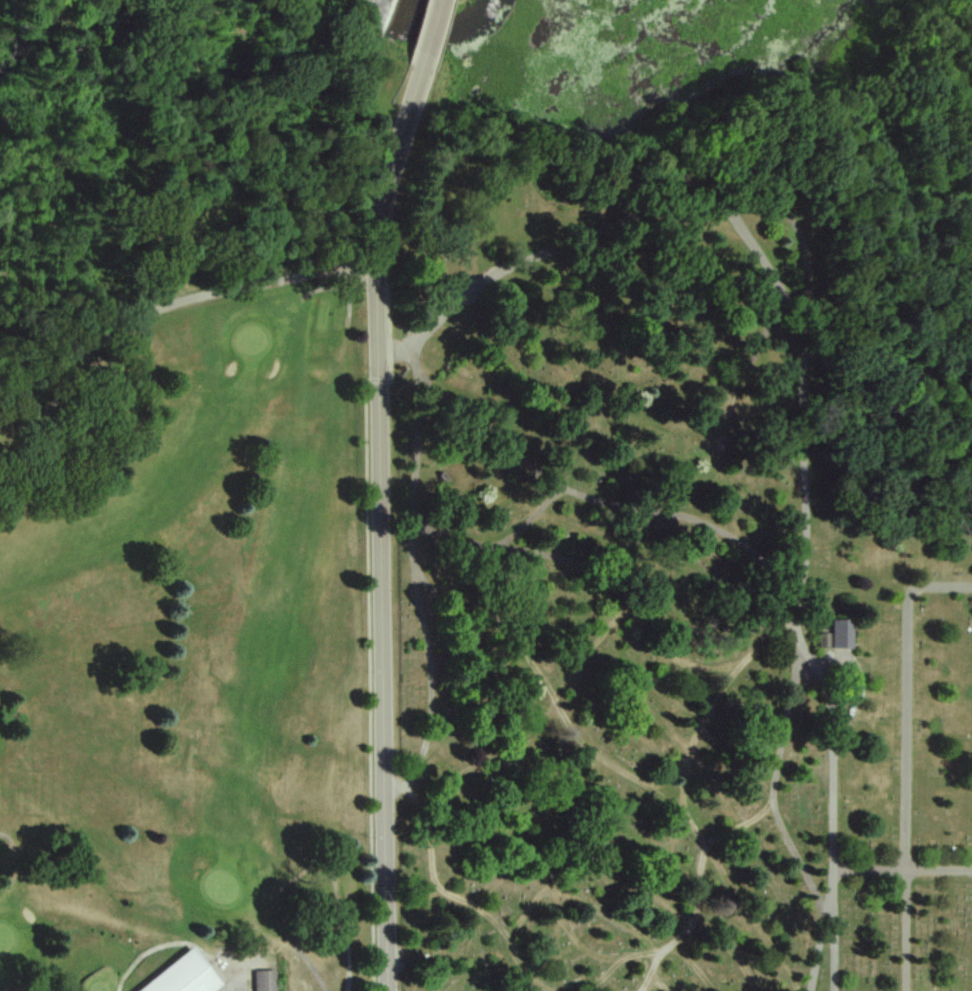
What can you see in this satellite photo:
road: (426, 37)
park: (903, 247)
road: (153, 313)
road: (803, 395)
road: (603, 507)
road: (381, 531)
road: (414, 581)
park: (660, 589)
building: (836, 635)
park: (188, 642)
road: (905, 697)
road: (558, 702)
road: (856, 708)
road: (705, 725)
road: (772, 784)
road: (902, 868)
road: (696, 890)
road: (444, 902)
road: (901, 929)
road: (826, 952)
road: (612, 966)
building: (175, 976)
building: (265, 981)
parking lot: (237, 985)

